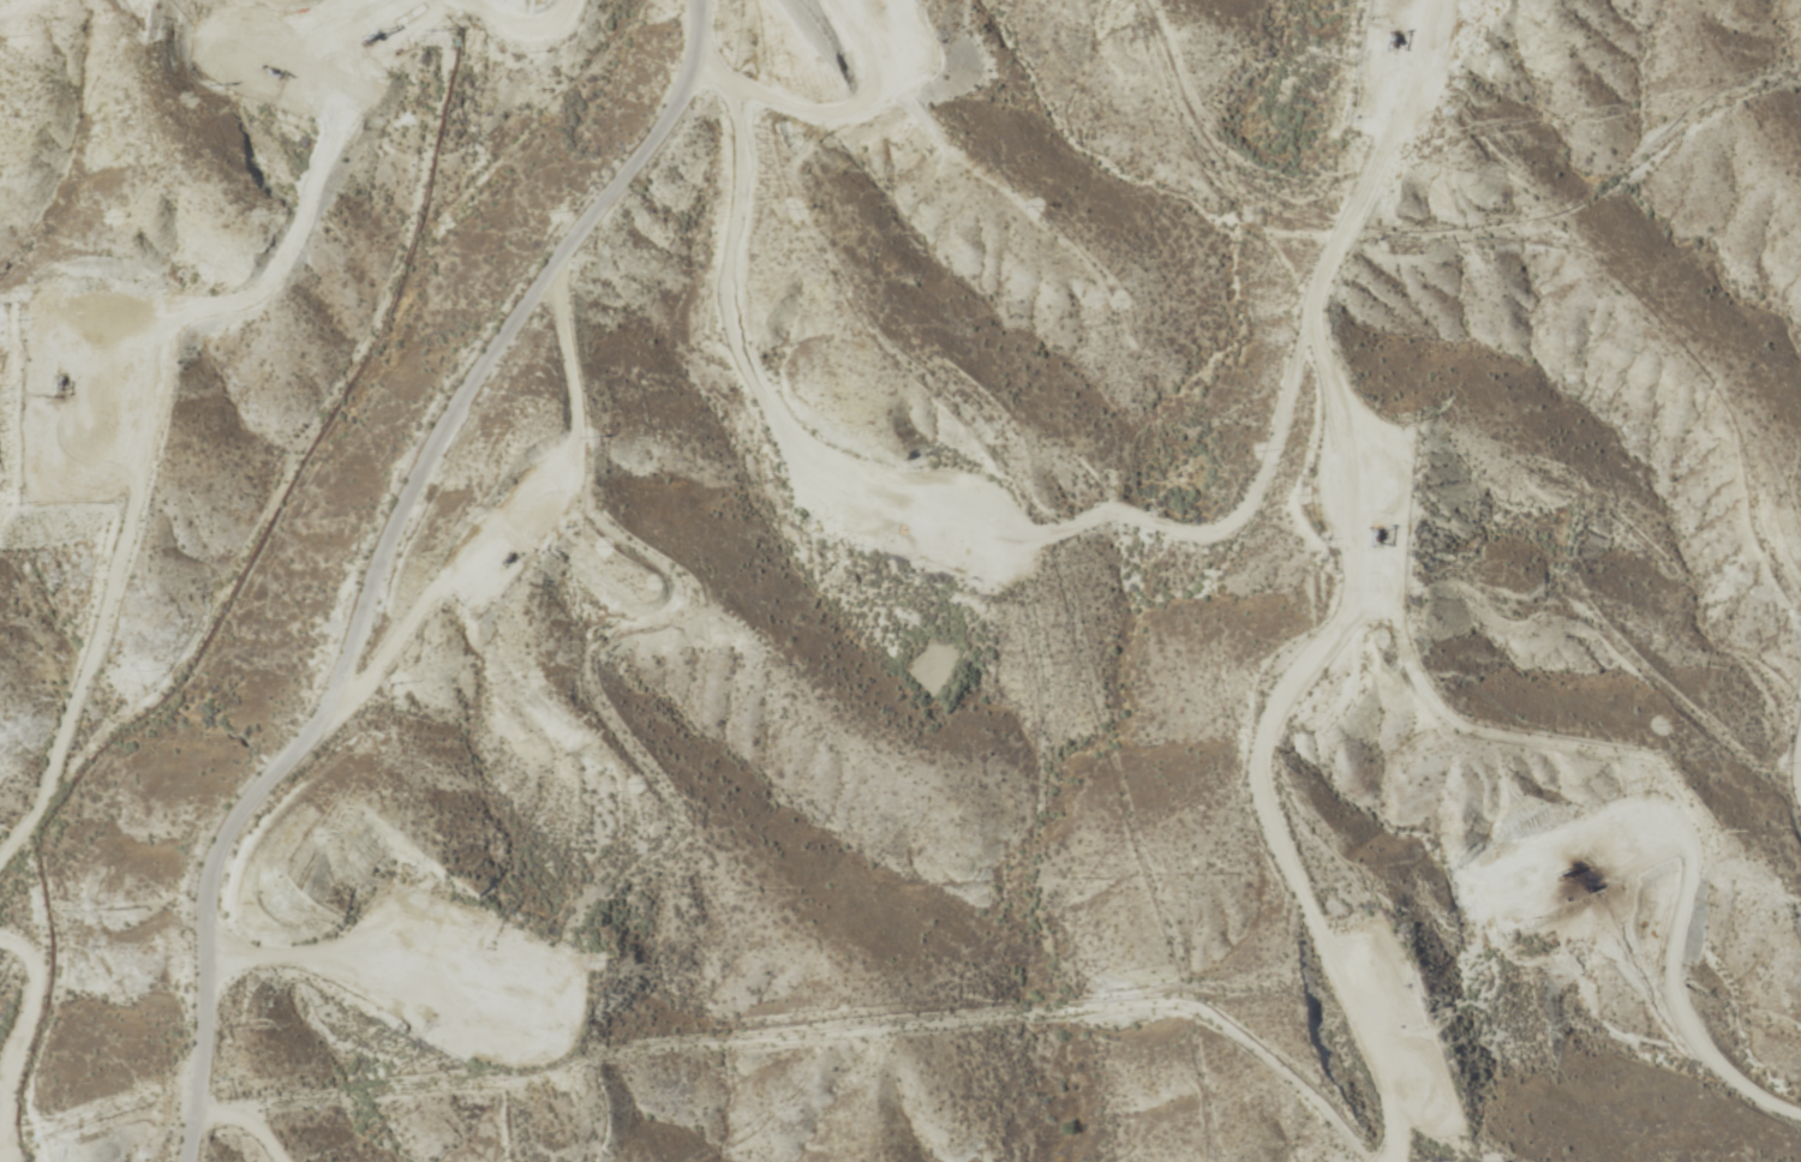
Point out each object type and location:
road: (1118, 483)
road: (372, 557)

